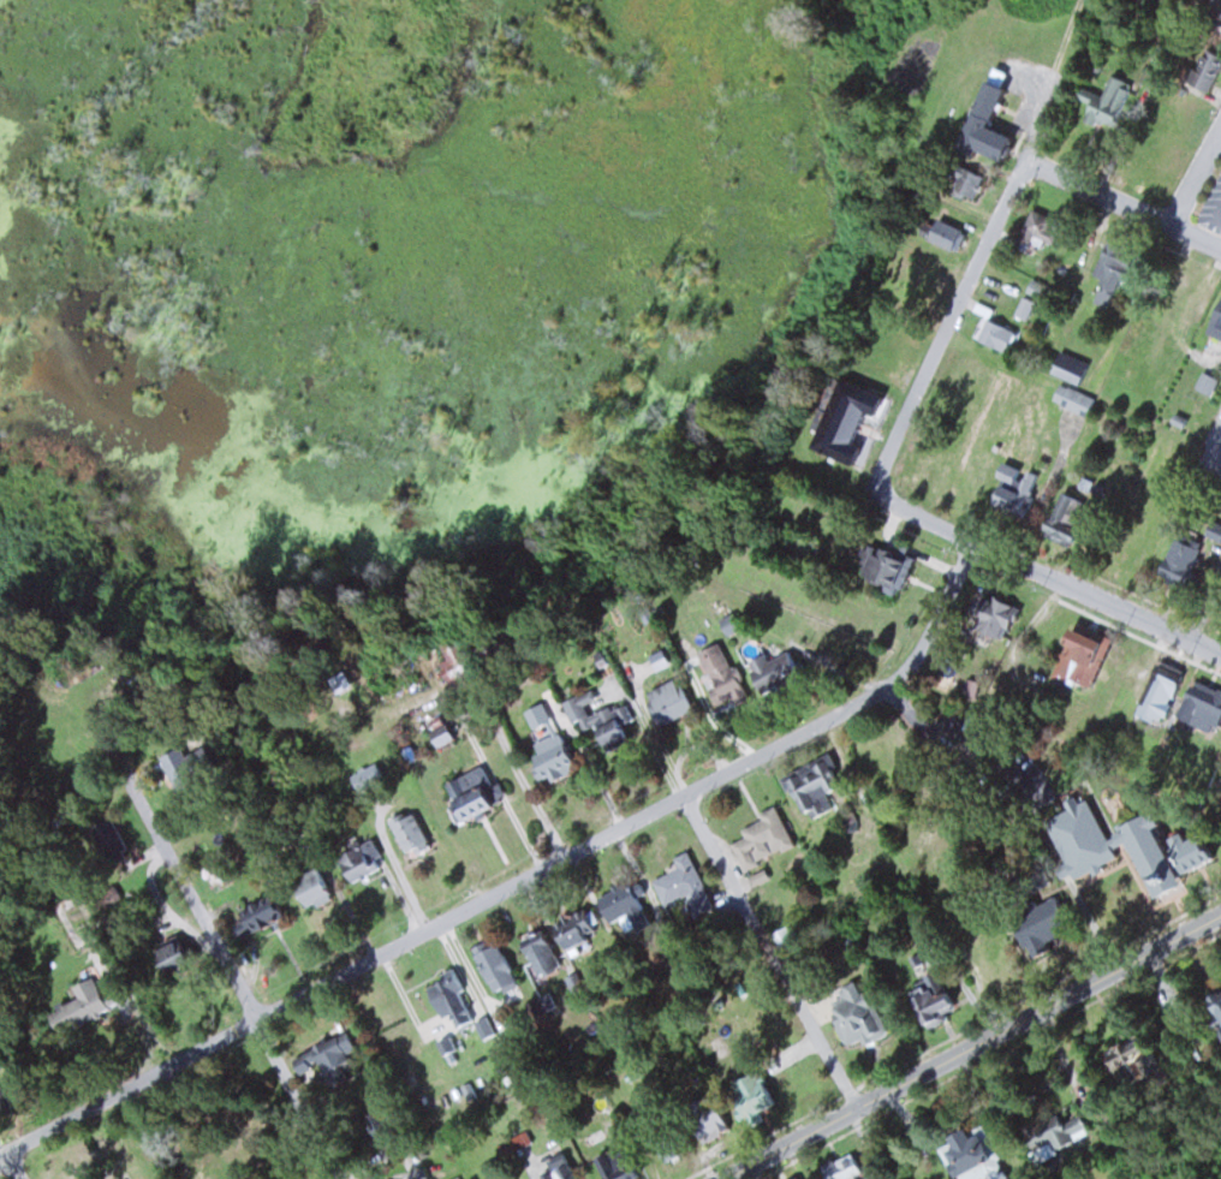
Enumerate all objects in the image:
building: (1211, 19)
building: (1201, 67)
building: (1103, 102)
building: (979, 120)
road: (1196, 177)
building: (961, 181)
road: (1122, 203)
building: (1035, 233)
building: (941, 234)
road: (967, 284)
building: (993, 335)
building: (1071, 398)
building: (840, 418)
building: (1012, 488)
road: (923, 517)
building: (1062, 519)
building: (1213, 530)
building: (1175, 559)
building: (882, 567)
road: (1098, 596)
road: (1205, 607)
building: (988, 617)
building: (1077, 655)
building: (768, 671)
building: (716, 673)
building: (663, 702)
building: (1199, 708)
building: (594, 717)
building: (437, 736)
building: (547, 756)
building: (870, 761)
building: (811, 785)
building: (464, 800)
building: (418, 835)
building: (115, 836)
building: (1076, 838)
building: (758, 839)
building: (1185, 848)
building: (1142, 853)
building: (363, 863)
road: (518, 881)
building: (681, 885)
building: (321, 892)
building: (620, 909)
building: (267, 916)
building: (1037, 925)
building: (568, 931)
building: (534, 948)
road: (770, 949)
building: (183, 951)
building: (489, 965)
road: (242, 992)
building: (446, 998)
building: (928, 1001)
building: (1213, 1002)
building: (852, 1016)
road: (969, 1044)
building: (336, 1056)
building: (1130, 1060)
building: (746, 1095)
building: (10, 1098)
building: (699, 1120)
building: (1041, 1138)
road: (5, 1143)
building: (666, 1148)
building: (967, 1155)
road: (17, 1166)
building: (842, 1167)
building: (553, 1172)

